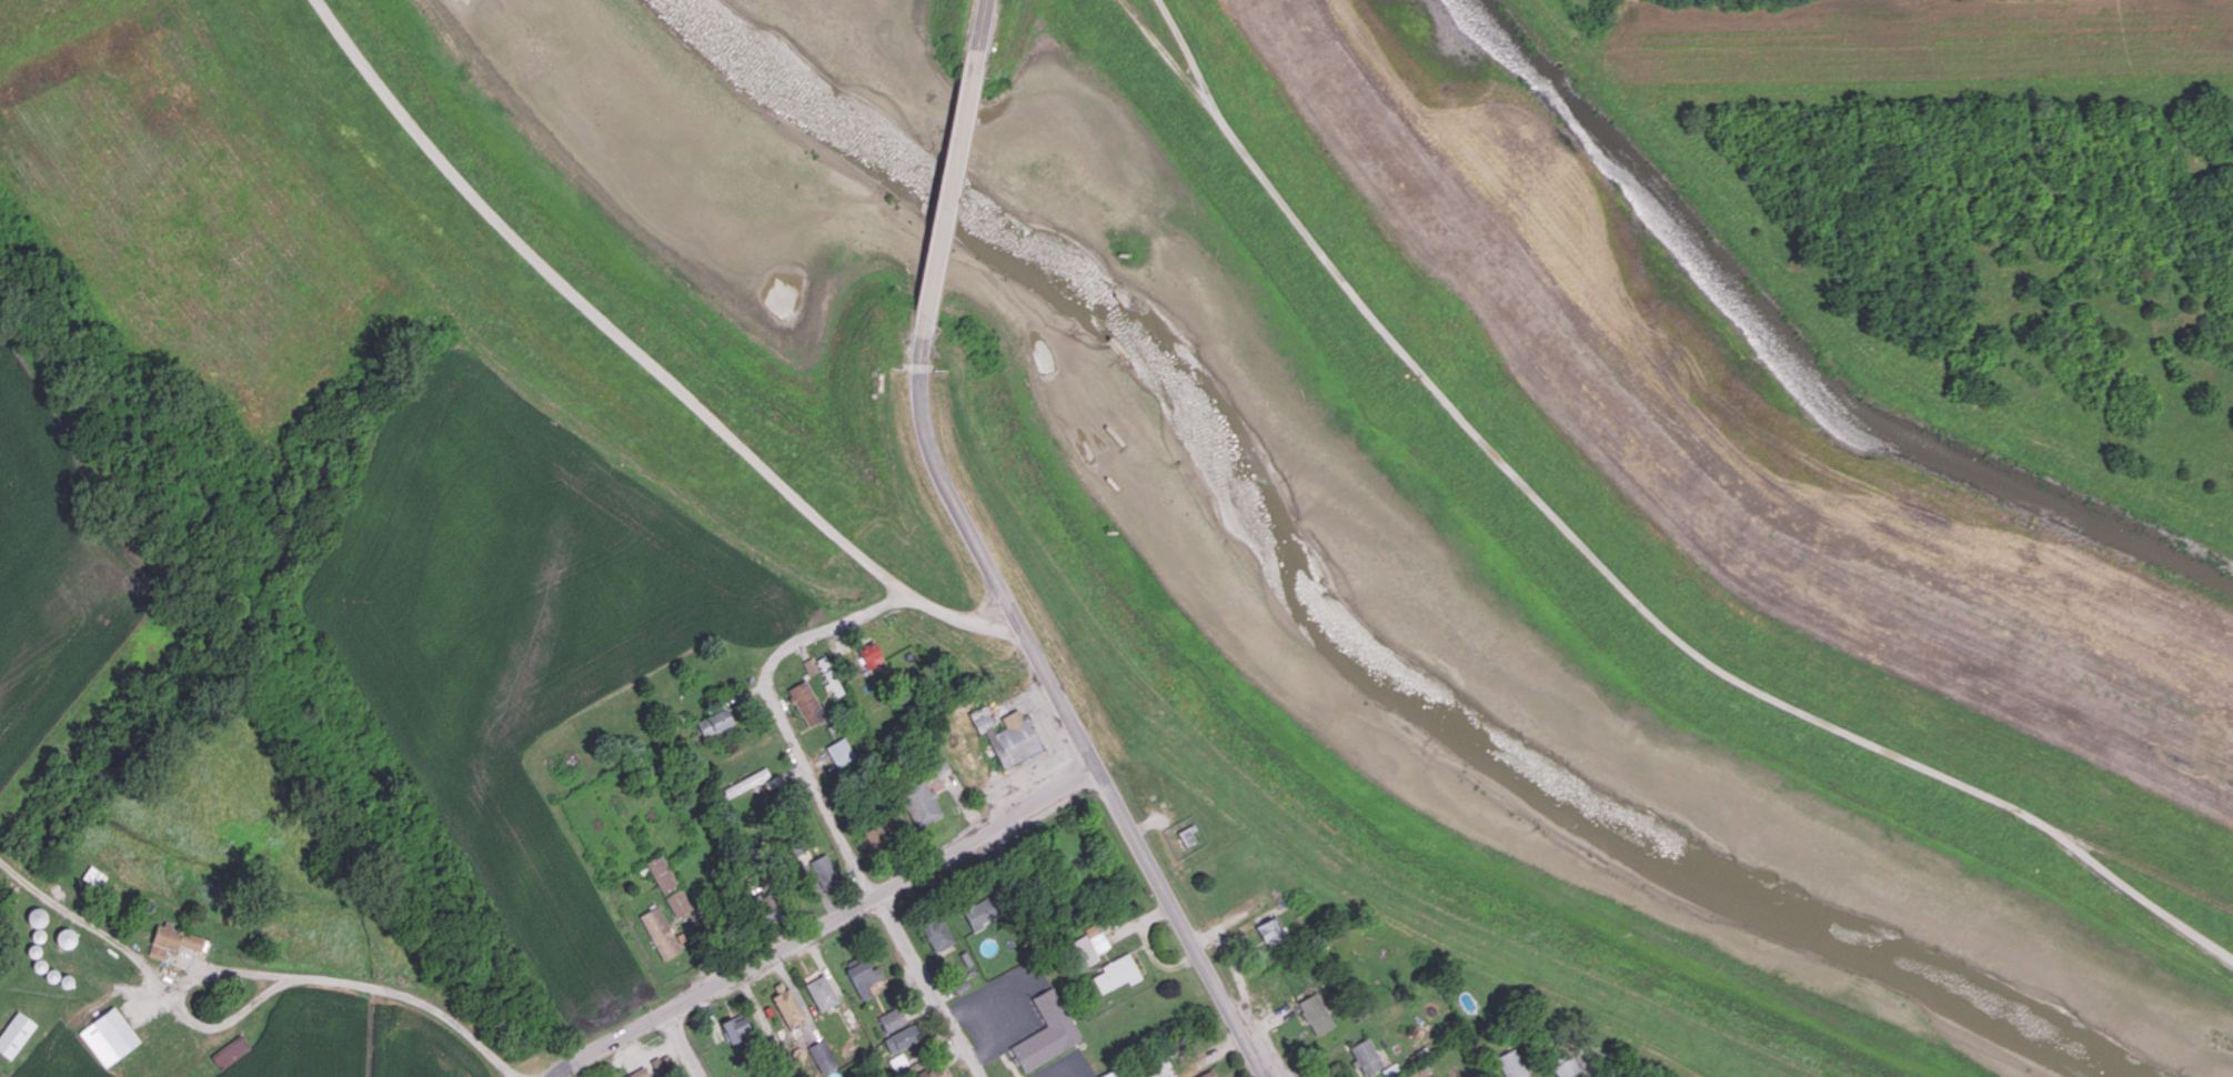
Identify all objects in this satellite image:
road: (978, 29)
road: (946, 195)
road: (608, 324)
crop: (534, 512)
road: (984, 558)
crop: (51, 573)
road: (1609, 577)
road: (871, 604)
road: (22, 877)
road: (869, 887)
road: (883, 892)
road: (1183, 924)
crop: (263, 925)
road: (114, 939)
road: (414, 999)
road: (179, 1007)
building: (1048, 1034)
road: (604, 1040)
road: (684, 1044)
road: (1625, 1075)

